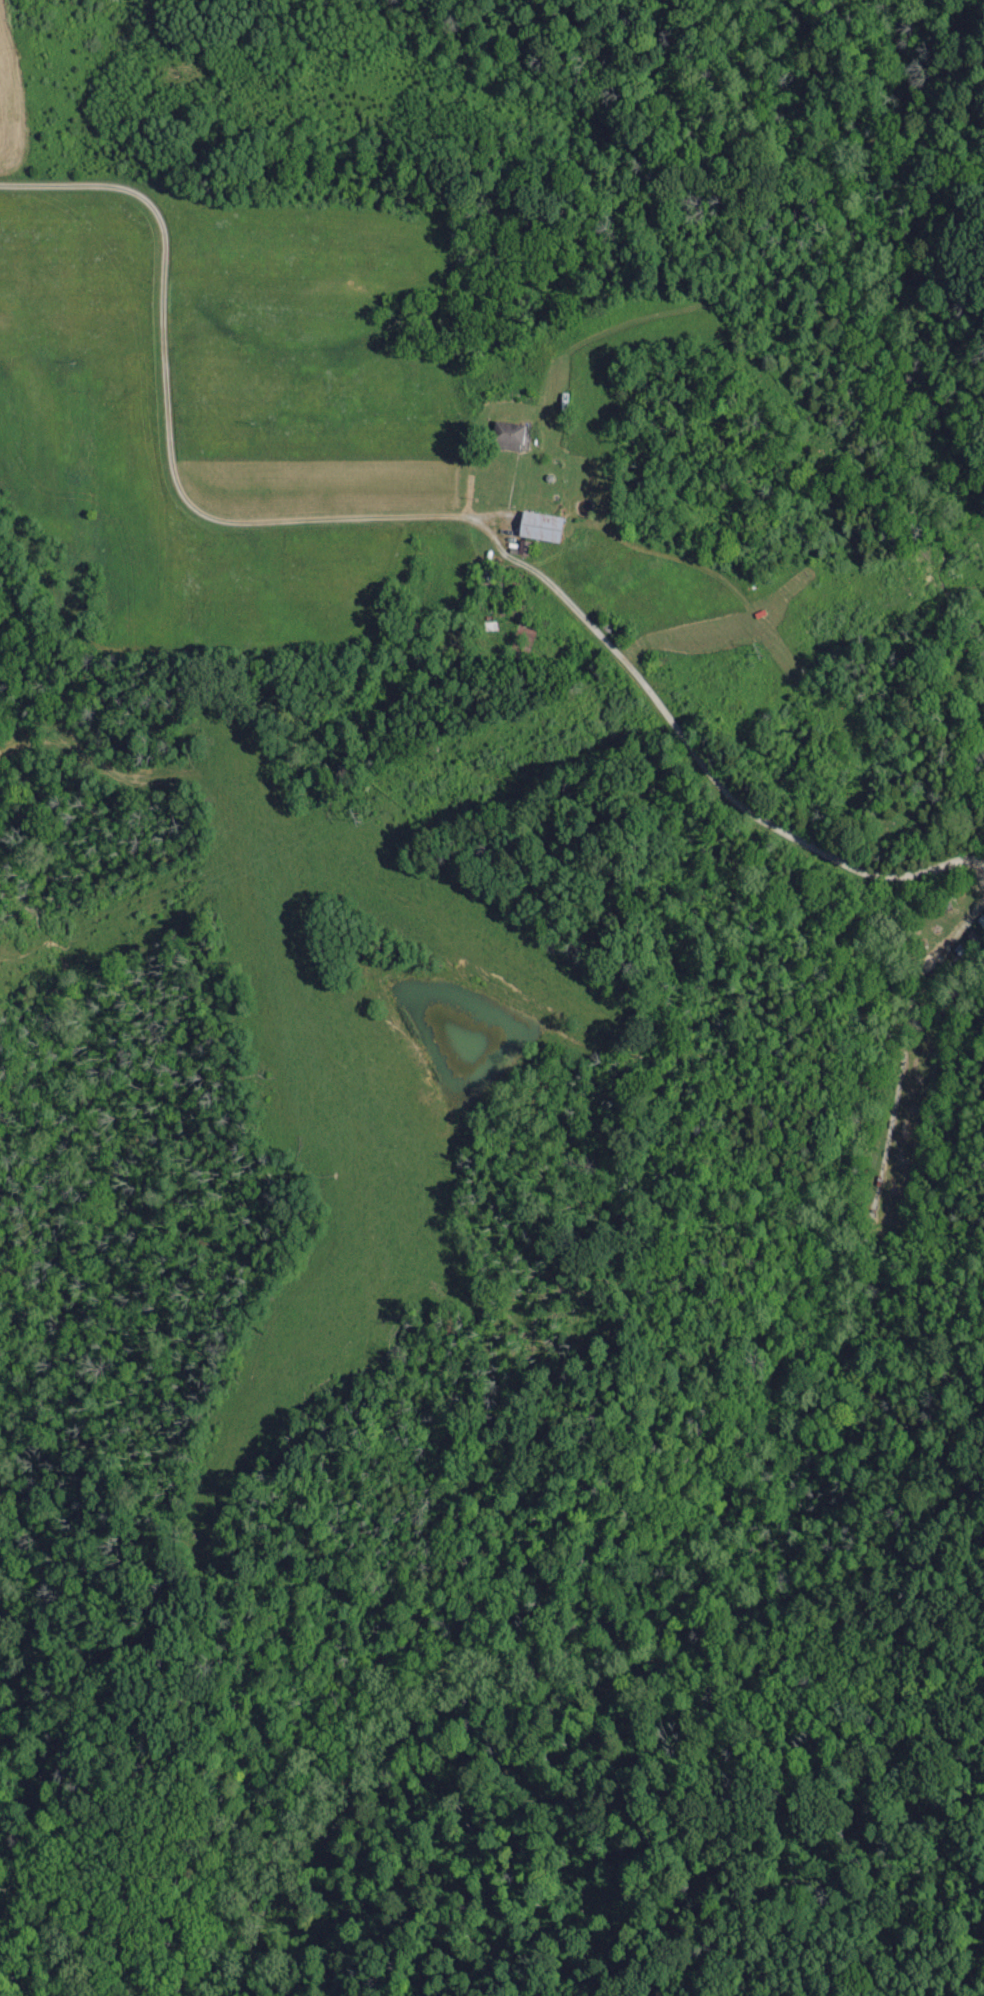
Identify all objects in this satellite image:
road: (167, 427)
building: (505, 438)
building: (537, 529)
power tower: (774, 656)
power tower: (371, 814)
power tower: (1, 975)

